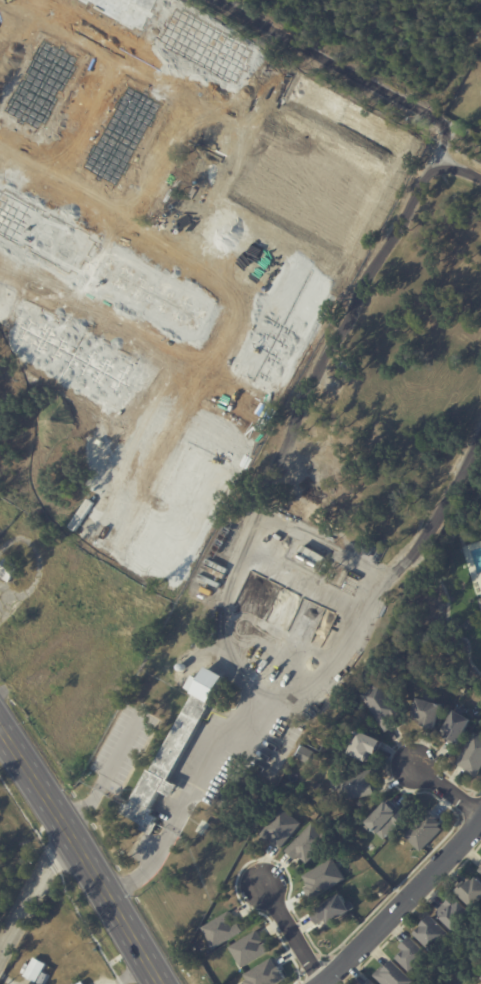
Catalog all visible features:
road: (142, 64)
road: (336, 65)
road: (95, 84)
road: (452, 167)
road: (292, 429)
building: (73, 559)
building: (8, 571)
building: (480, 598)
building: (480, 601)
building: (117, 604)
building: (441, 609)
road: (343, 656)
building: (51, 679)
building: (382, 706)
building: (427, 716)
building: (456, 731)
road: (2, 735)
parking lot: (122, 743)
building: (366, 748)
building: (174, 752)
building: (305, 756)
building: (472, 758)
road: (106, 773)
building: (354, 786)
road: (447, 791)
building: (384, 823)
building: (280, 828)
building: (203, 830)
building: (424, 833)
building: (307, 842)
road: (82, 854)
road: (143, 868)
building: (480, 870)
building: (321, 877)
road: (34, 892)
building: (471, 893)
road: (404, 905)
building: (333, 912)
building: (454, 914)
building: (222, 928)
road: (291, 934)
building: (432, 934)
building: (249, 948)
building: (412, 955)
building: (33, 970)
building: (264, 974)
building: (393, 975)
building: (44, 979)
building: (82, 983)
building: (372, 983)

